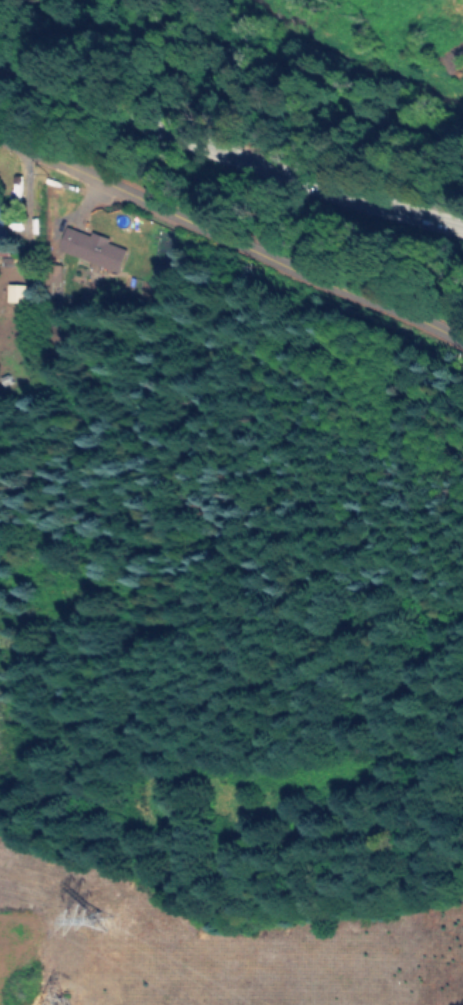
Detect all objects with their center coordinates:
road: (230, 162)
building: (2, 240)
building: (91, 246)
road: (230, 247)
building: (14, 291)
power tower: (94, 923)

